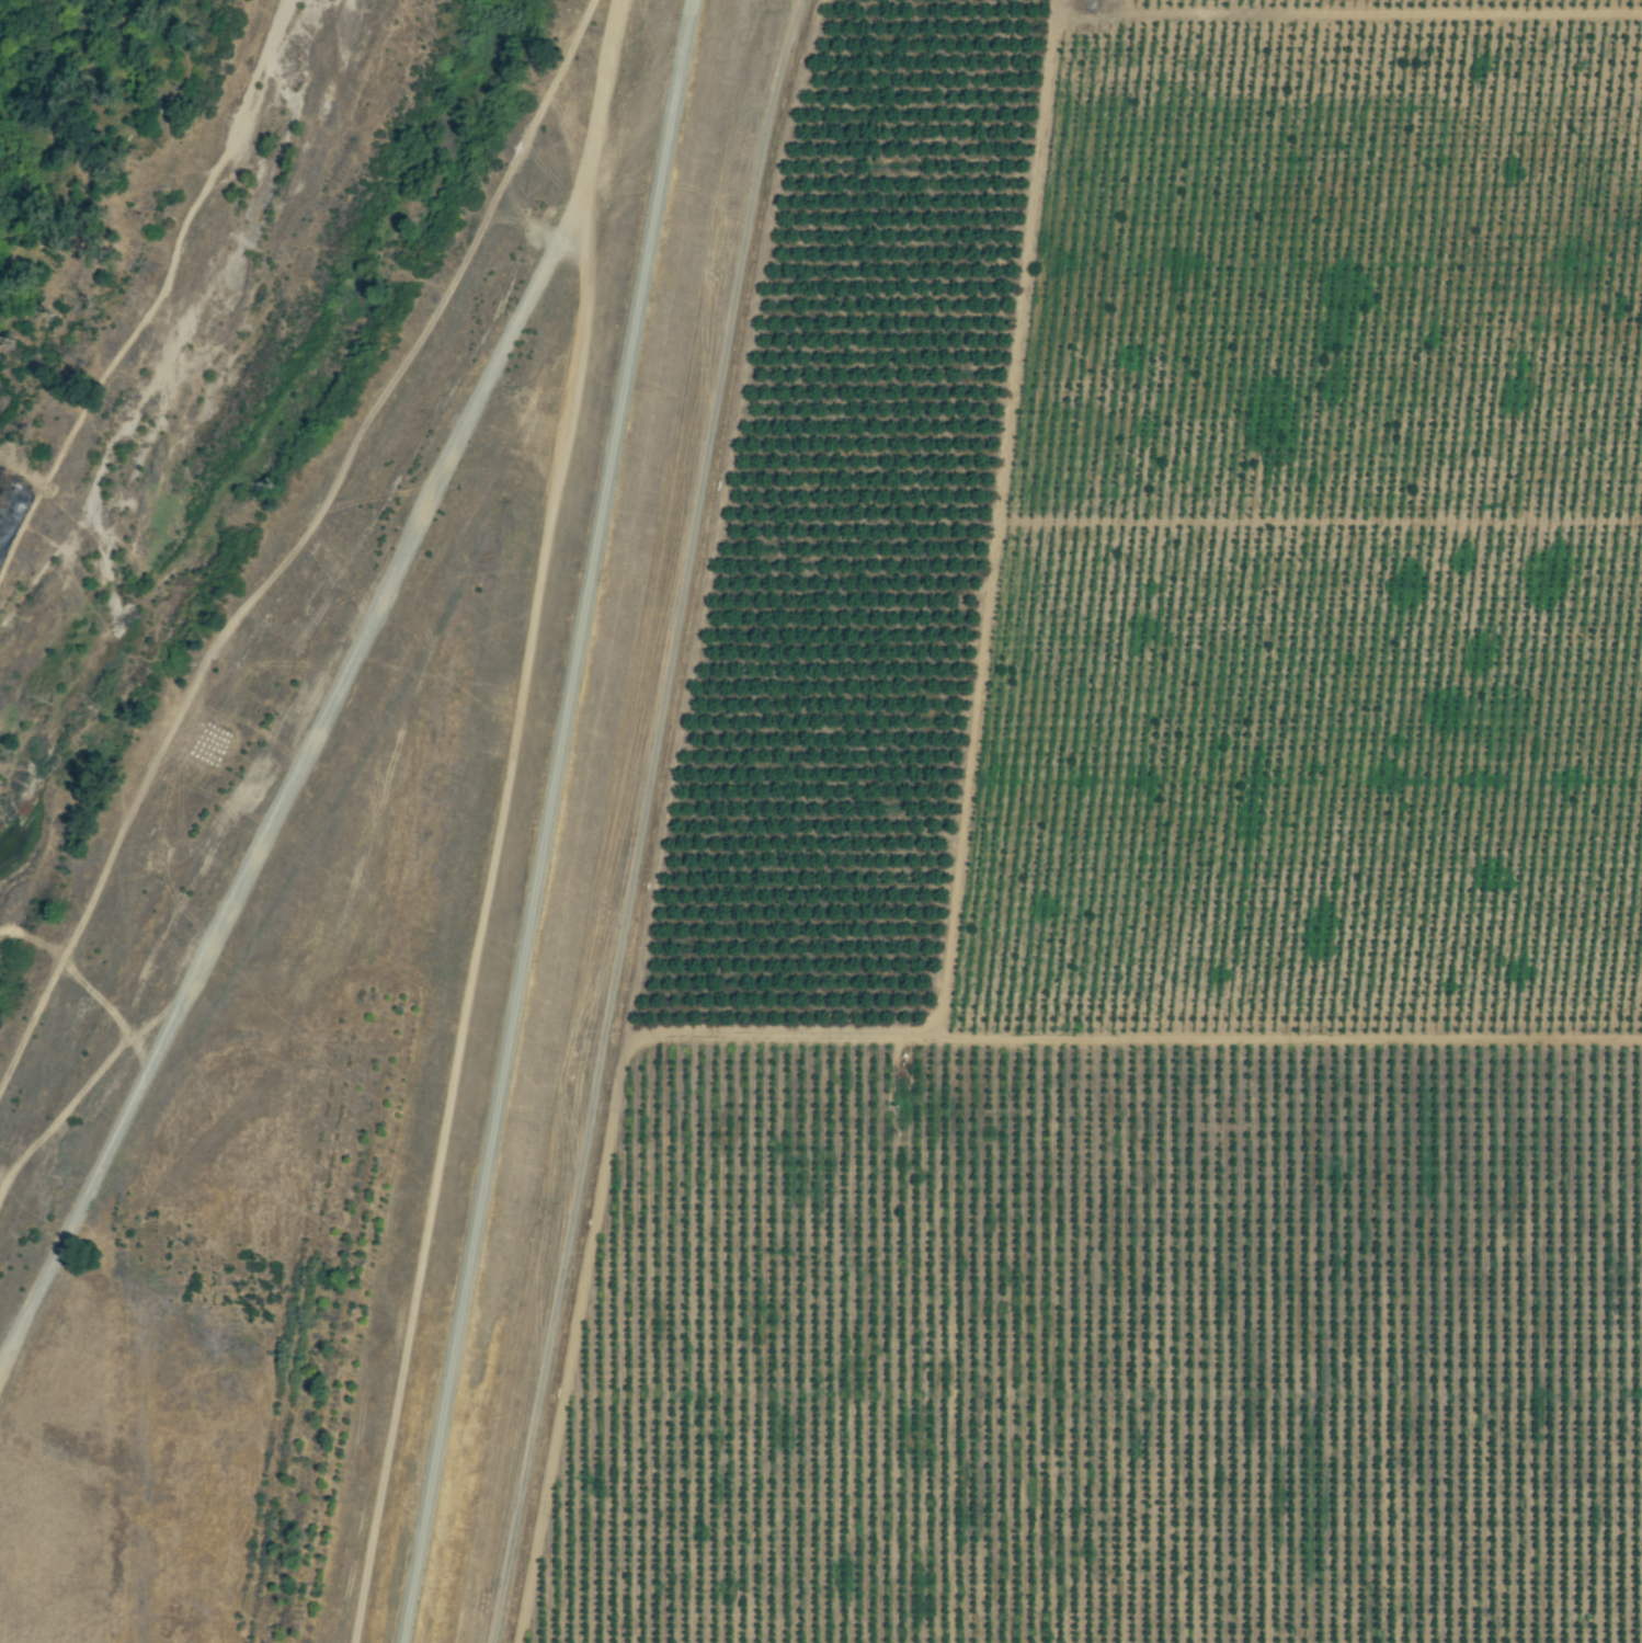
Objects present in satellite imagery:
road: (1343, 5)
road: (343, 570)

